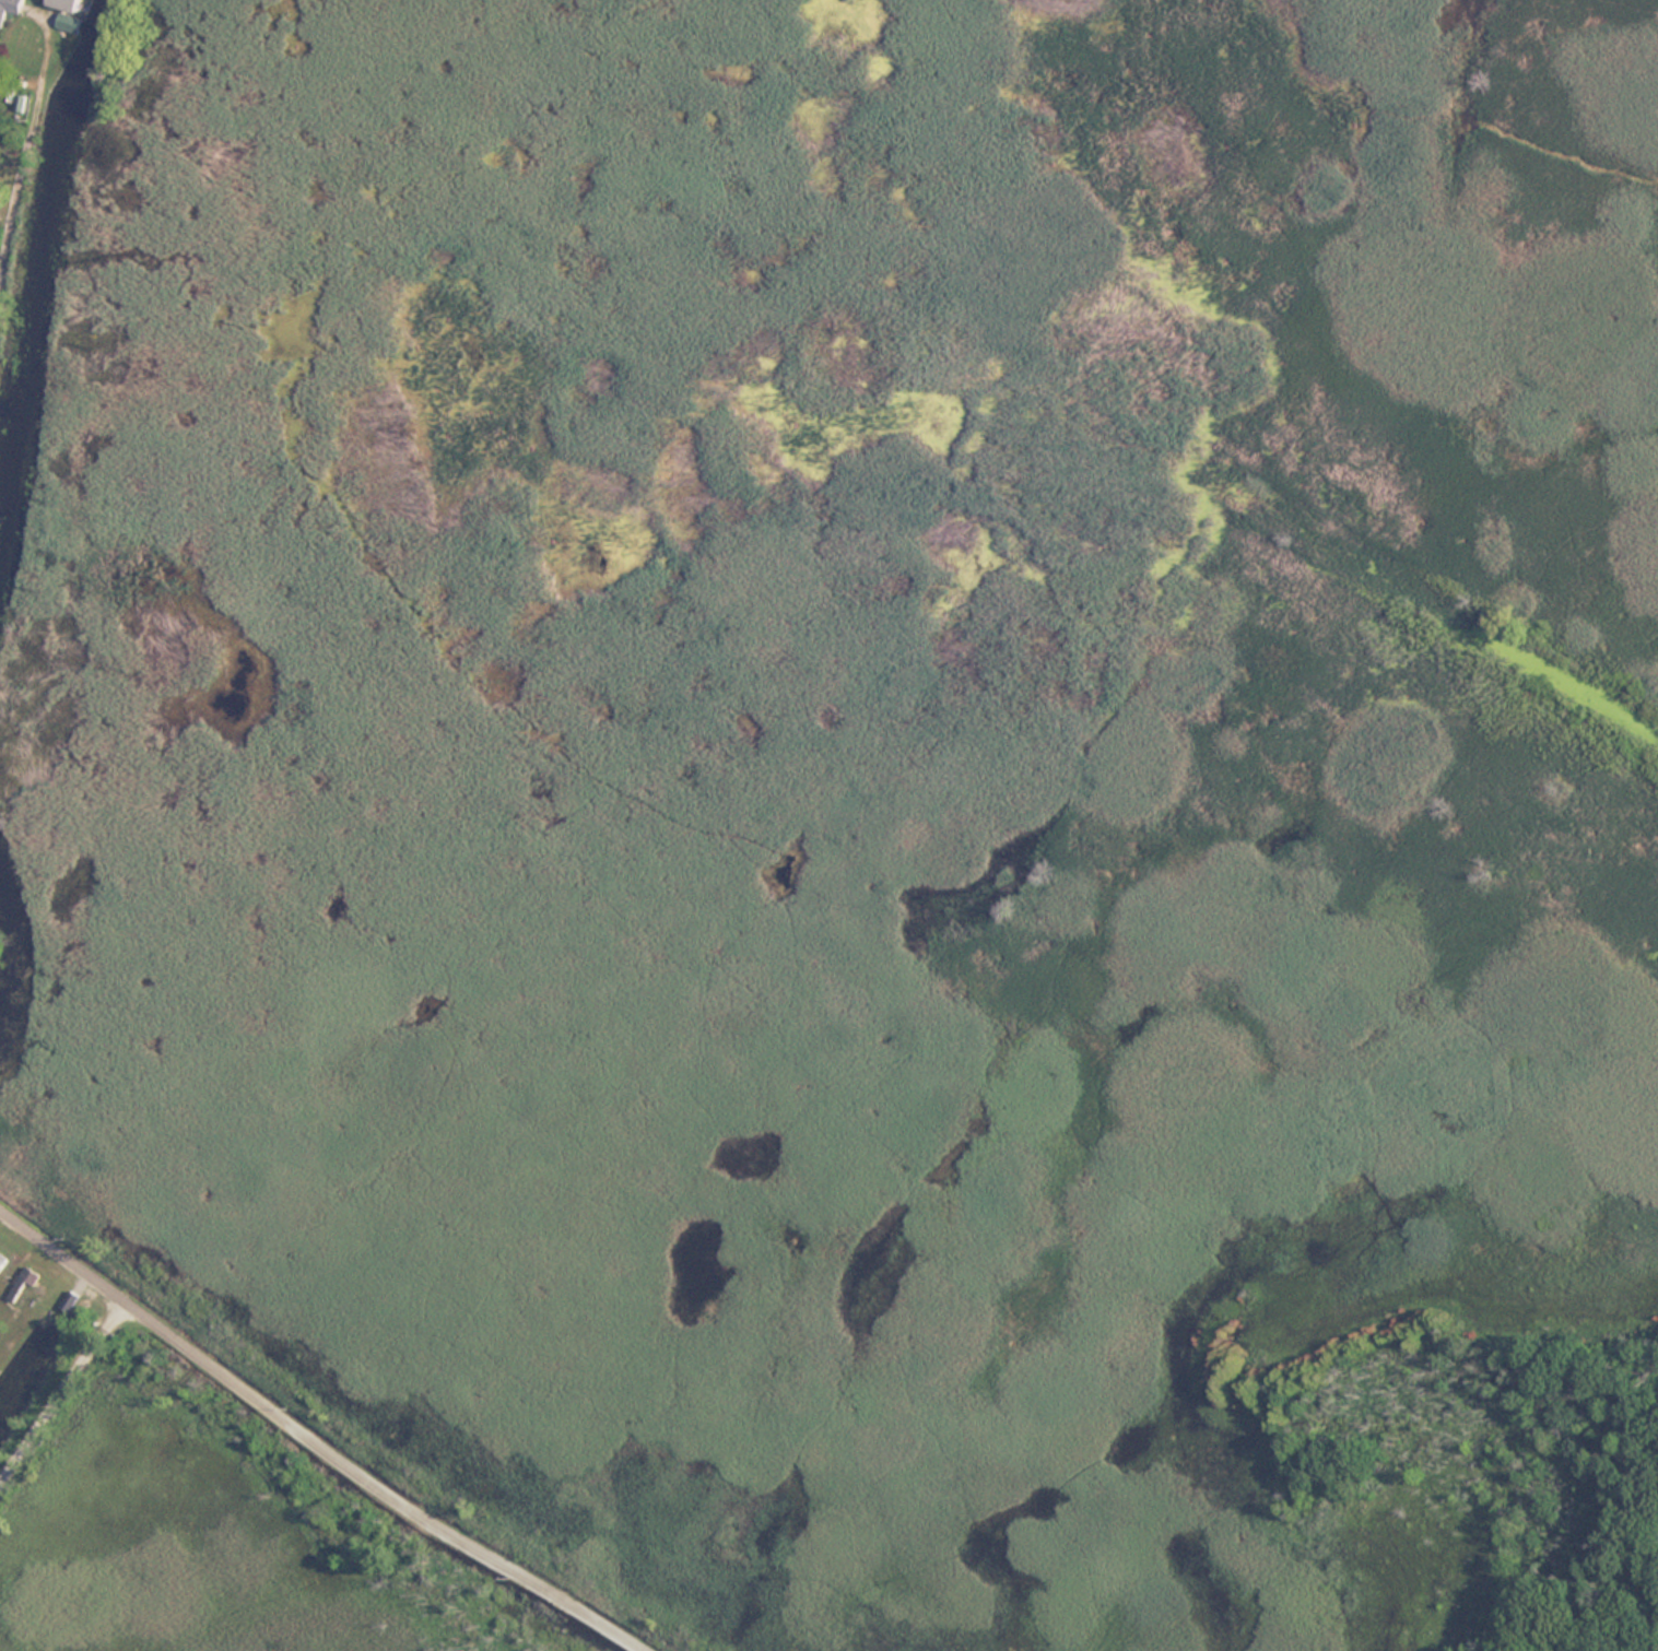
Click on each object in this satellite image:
building: (66, 3)
building: (9, 8)
building: (67, 26)
road: (21, 166)
building: (2, 1260)
building: (24, 1282)
road: (61, 1392)
road: (314, 1440)

